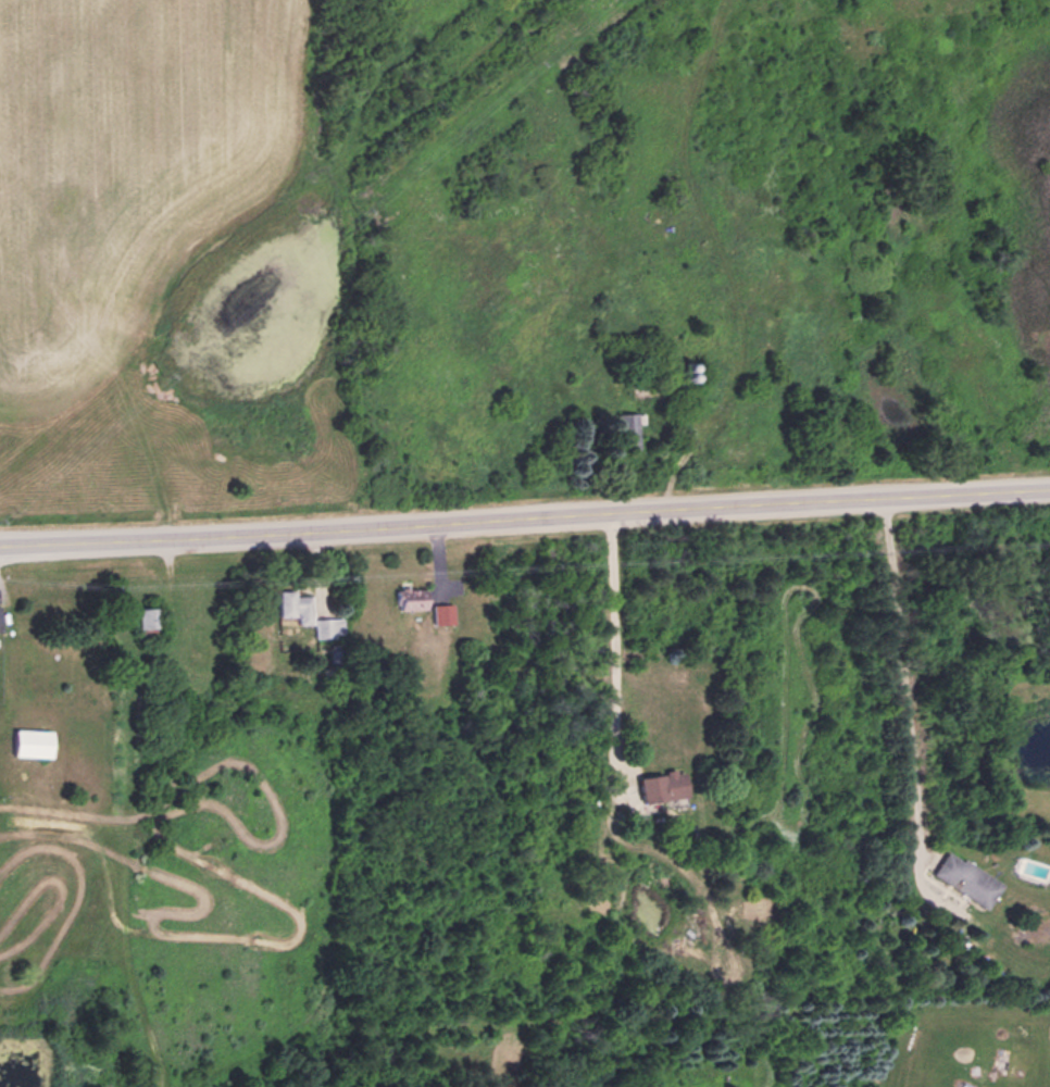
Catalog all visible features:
road: (525, 515)
building: (308, 612)
building: (1, 619)
building: (152, 623)
road: (607, 639)
road: (899, 689)
building: (35, 741)
building: (667, 785)
building: (1035, 869)
building: (970, 878)

